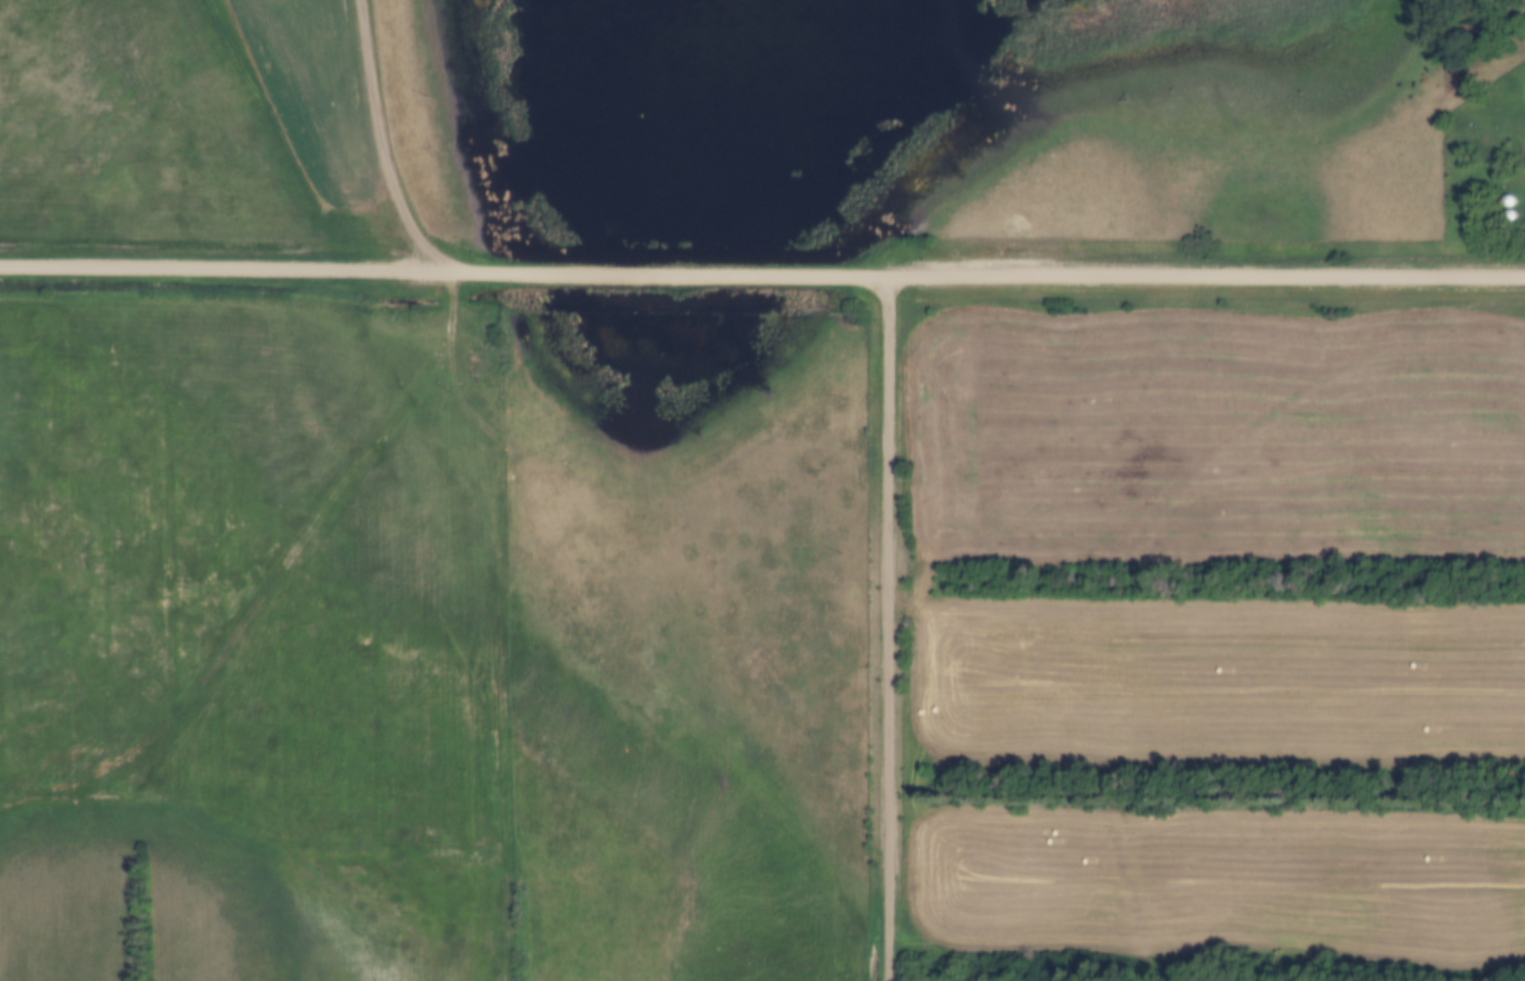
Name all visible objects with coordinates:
road: (378, 146)
road: (762, 275)
road: (475, 627)
road: (884, 629)

